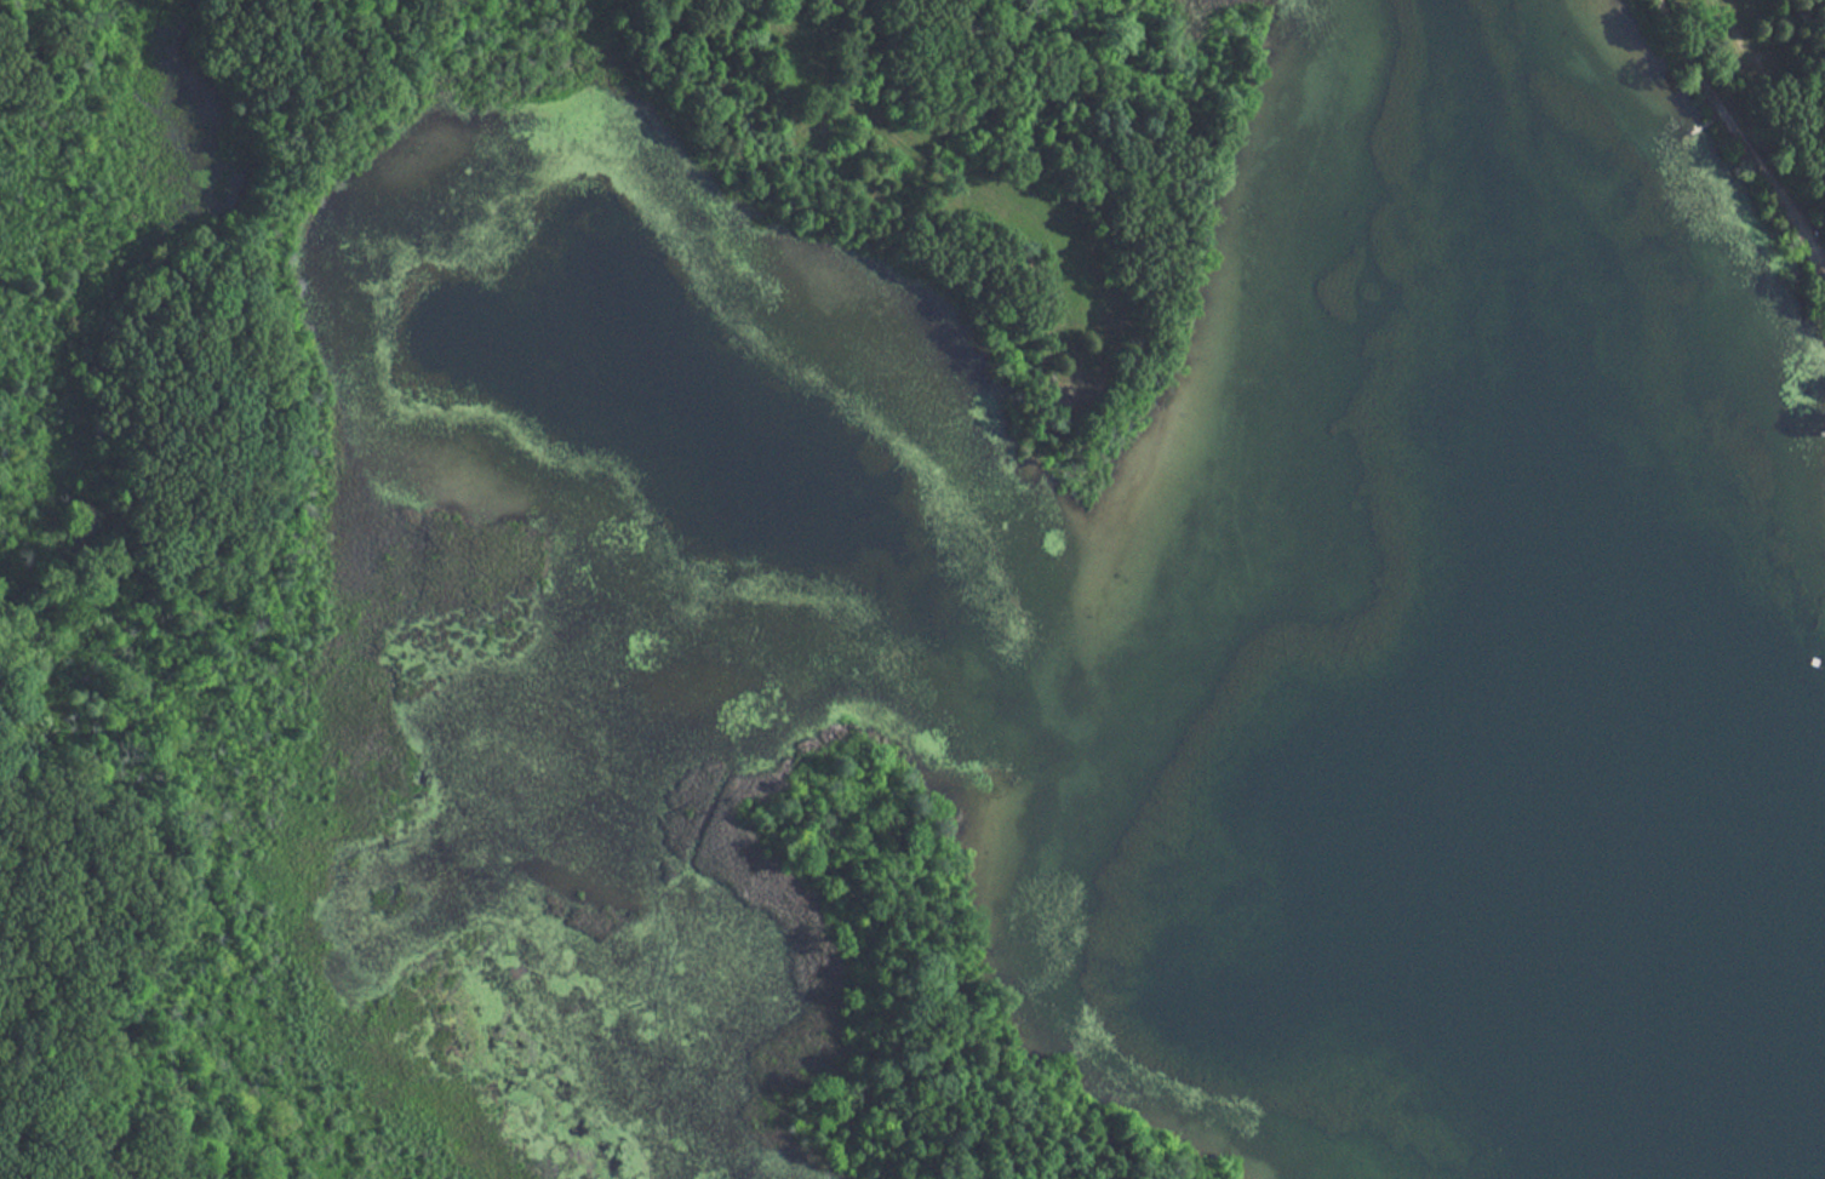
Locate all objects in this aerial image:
road: (1744, 138)
park: (397, 789)
road: (113, 983)

